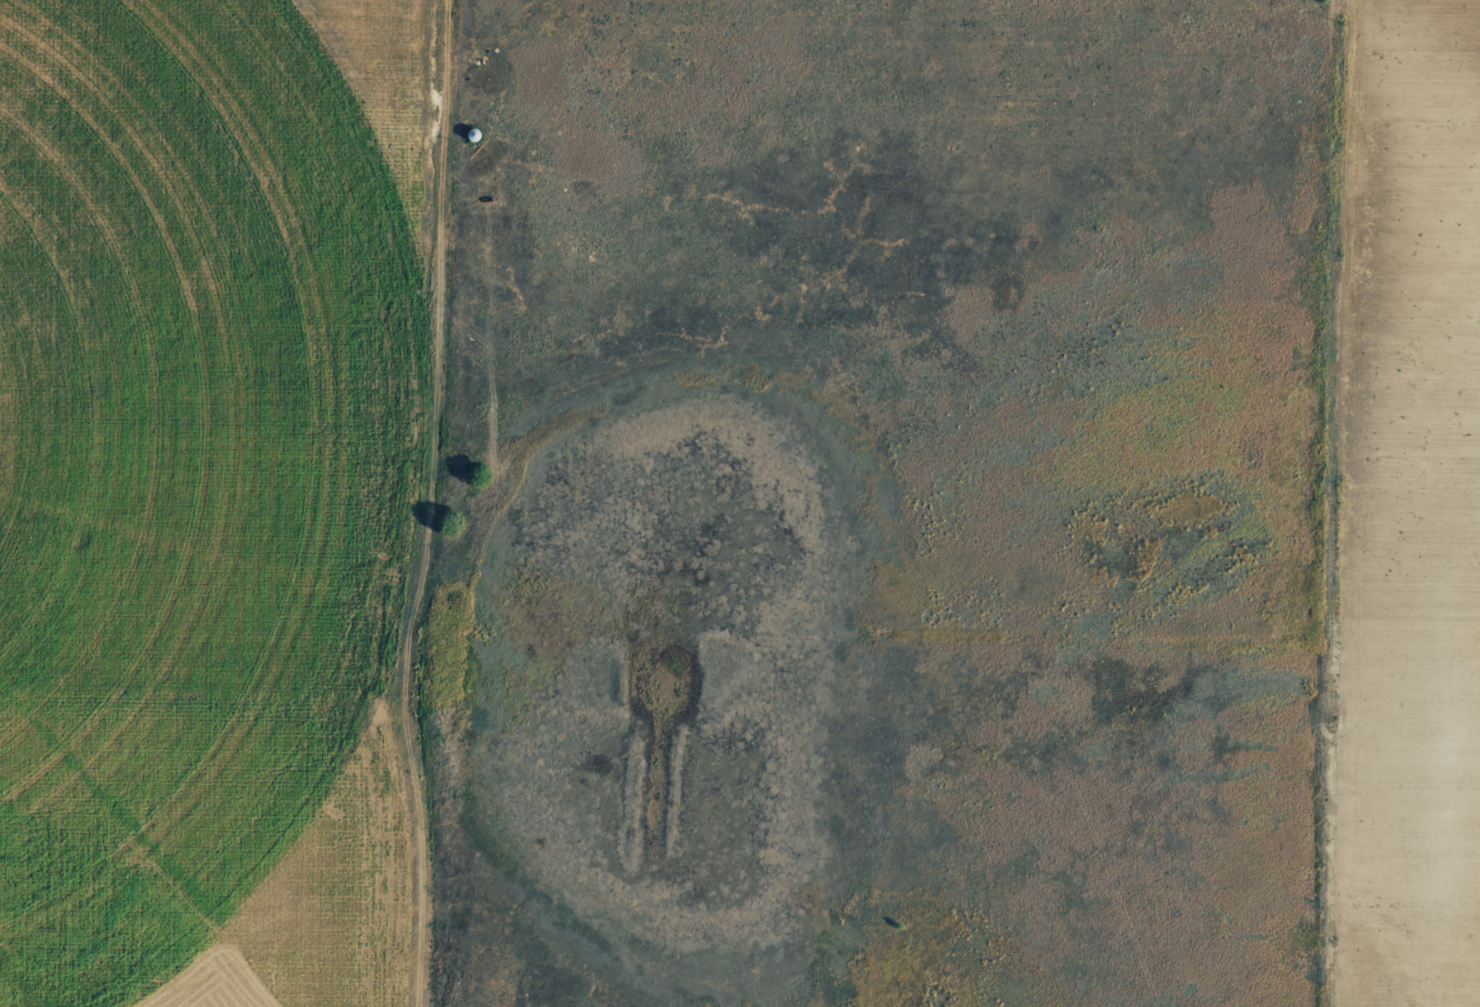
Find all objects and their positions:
road: (1338, 503)

